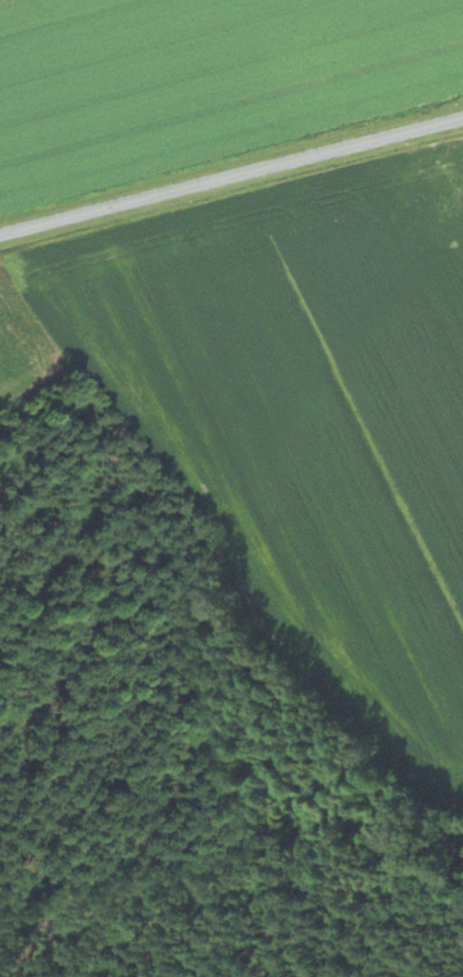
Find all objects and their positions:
road: (231, 178)

